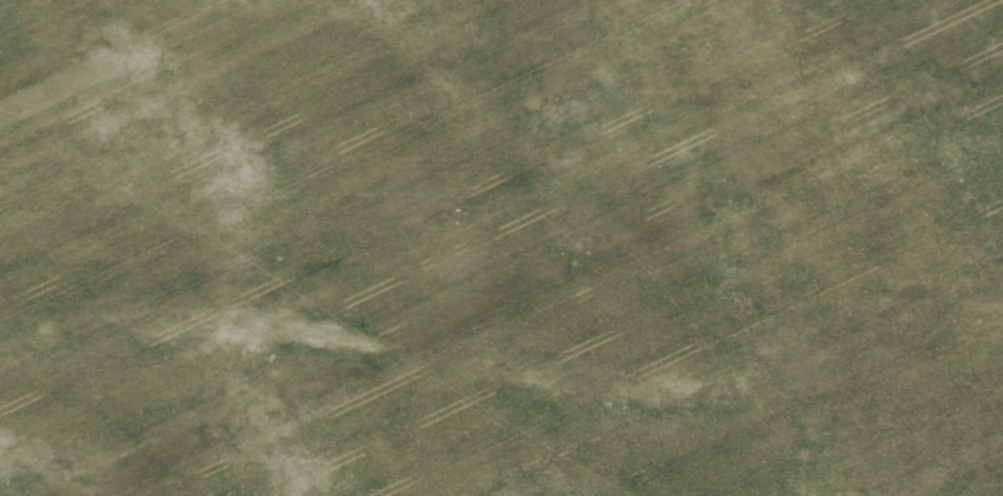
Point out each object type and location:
crop: (501, 248)

